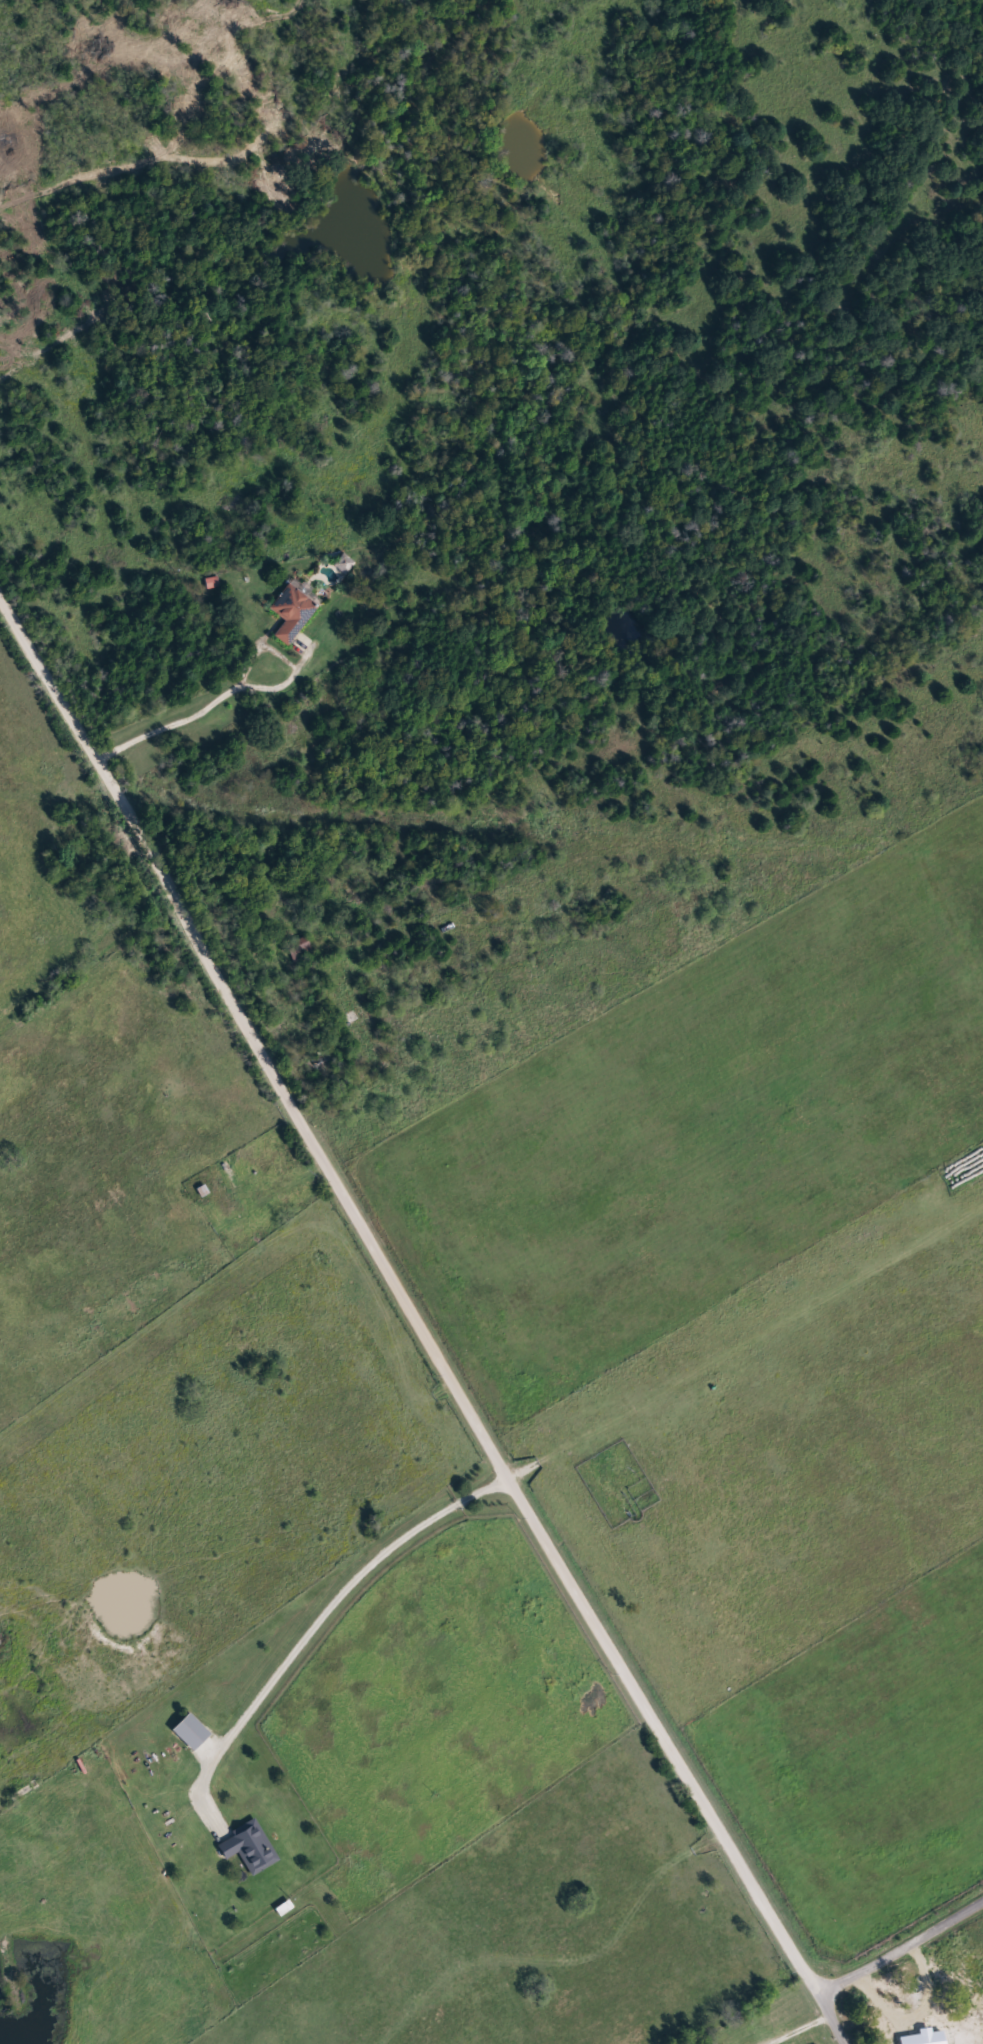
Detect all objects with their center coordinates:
building: (213, 583)
building: (296, 608)
building: (301, 948)
road: (403, 1297)
road: (323, 1604)
building: (191, 1732)
building: (251, 1848)
road: (900, 1944)
road: (831, 2018)

